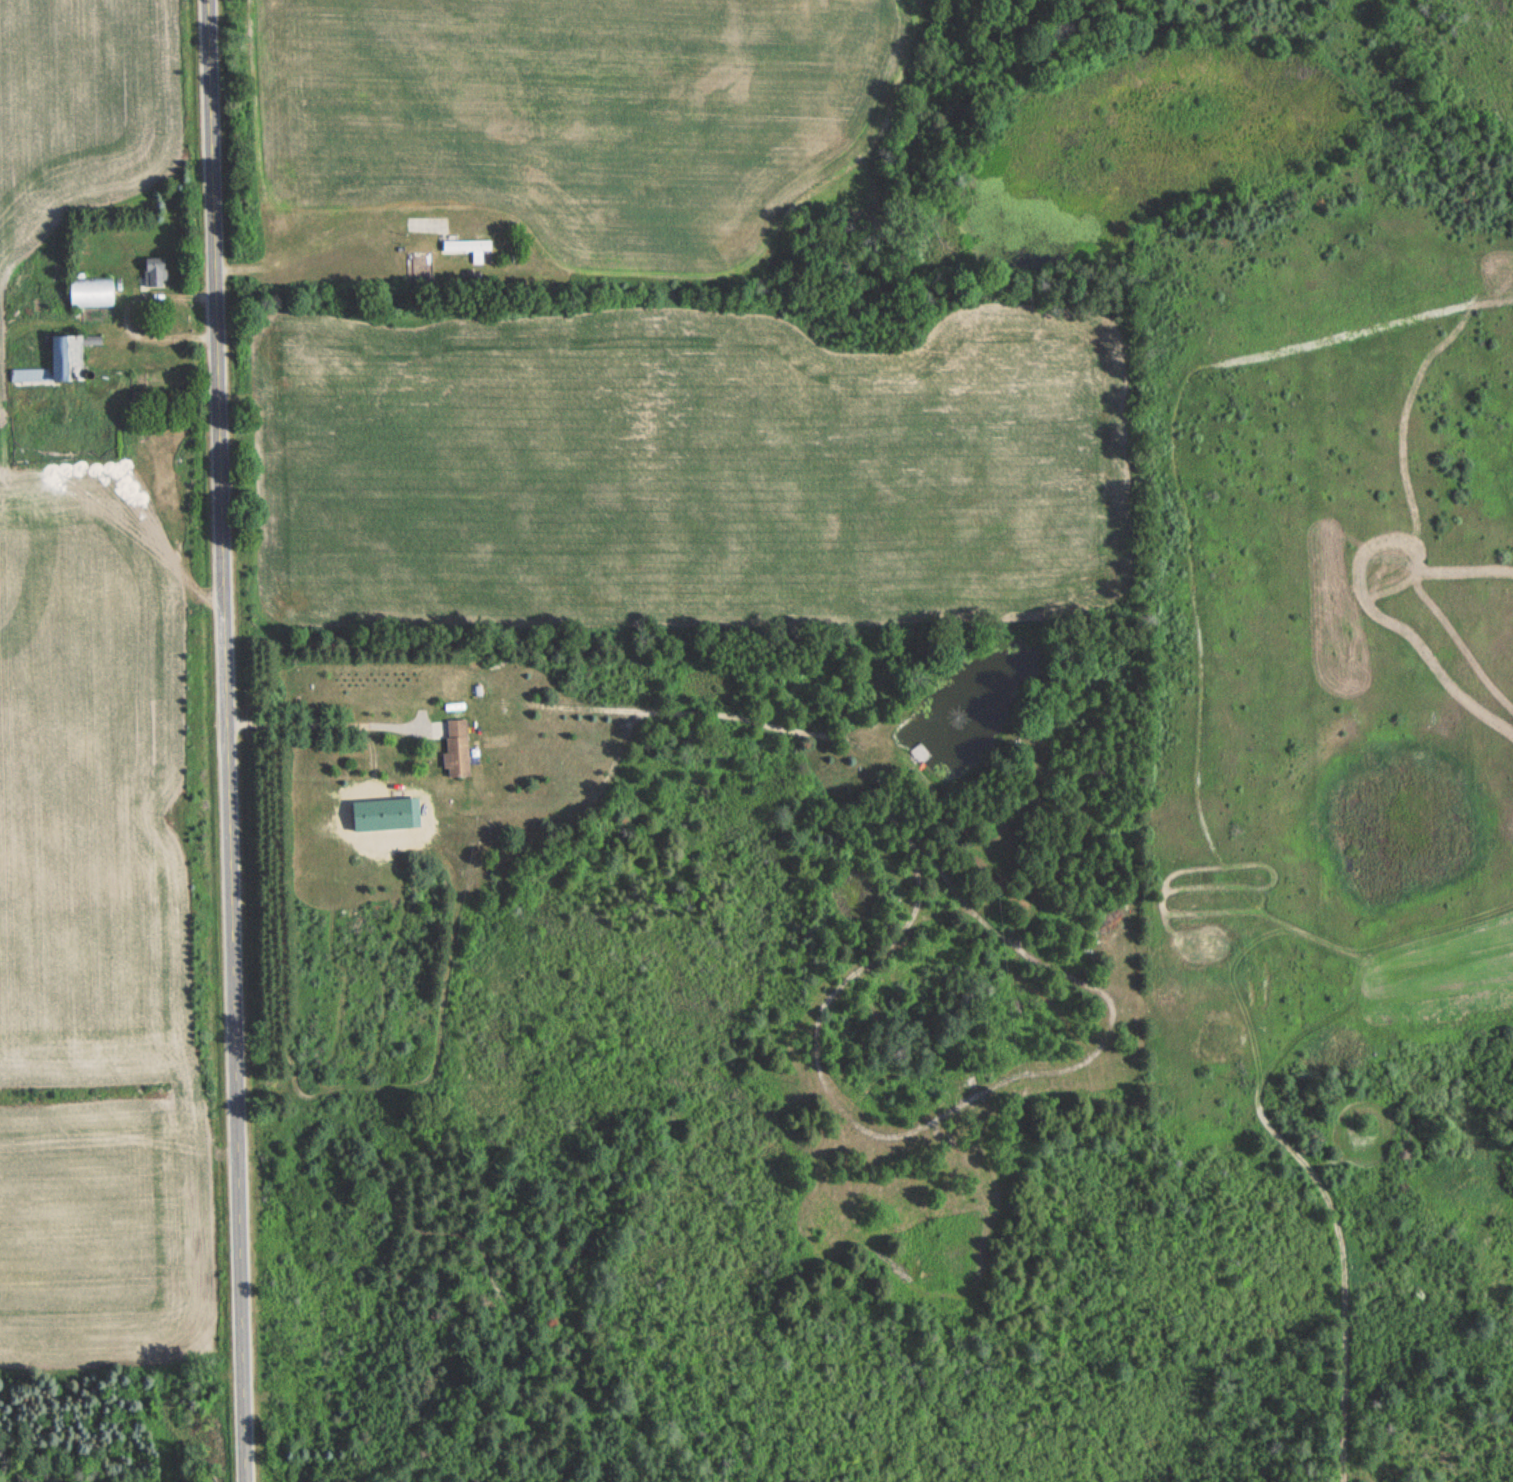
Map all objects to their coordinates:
building: (467, 248)
building: (155, 272)
building: (91, 292)
building: (56, 364)
road: (326, 722)
road: (222, 741)
building: (457, 747)
building: (920, 753)
building: (1222, 954)
building: (1259, 993)

